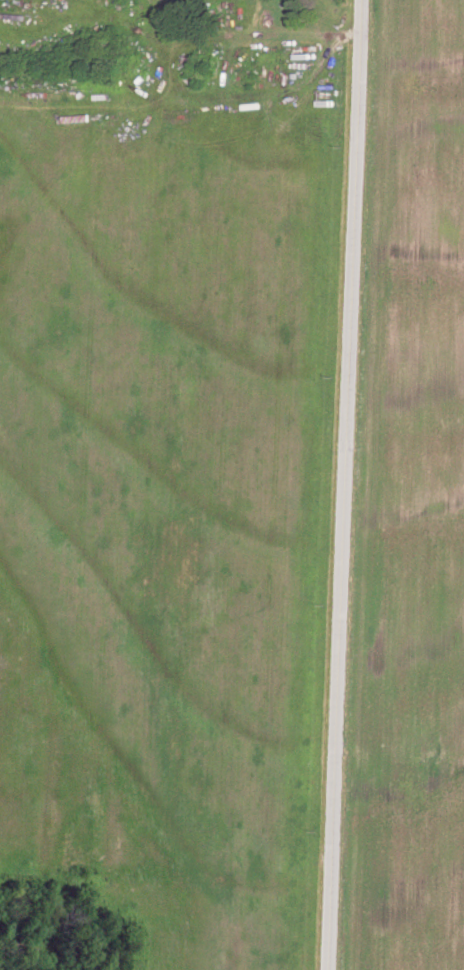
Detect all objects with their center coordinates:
road: (342, 485)

